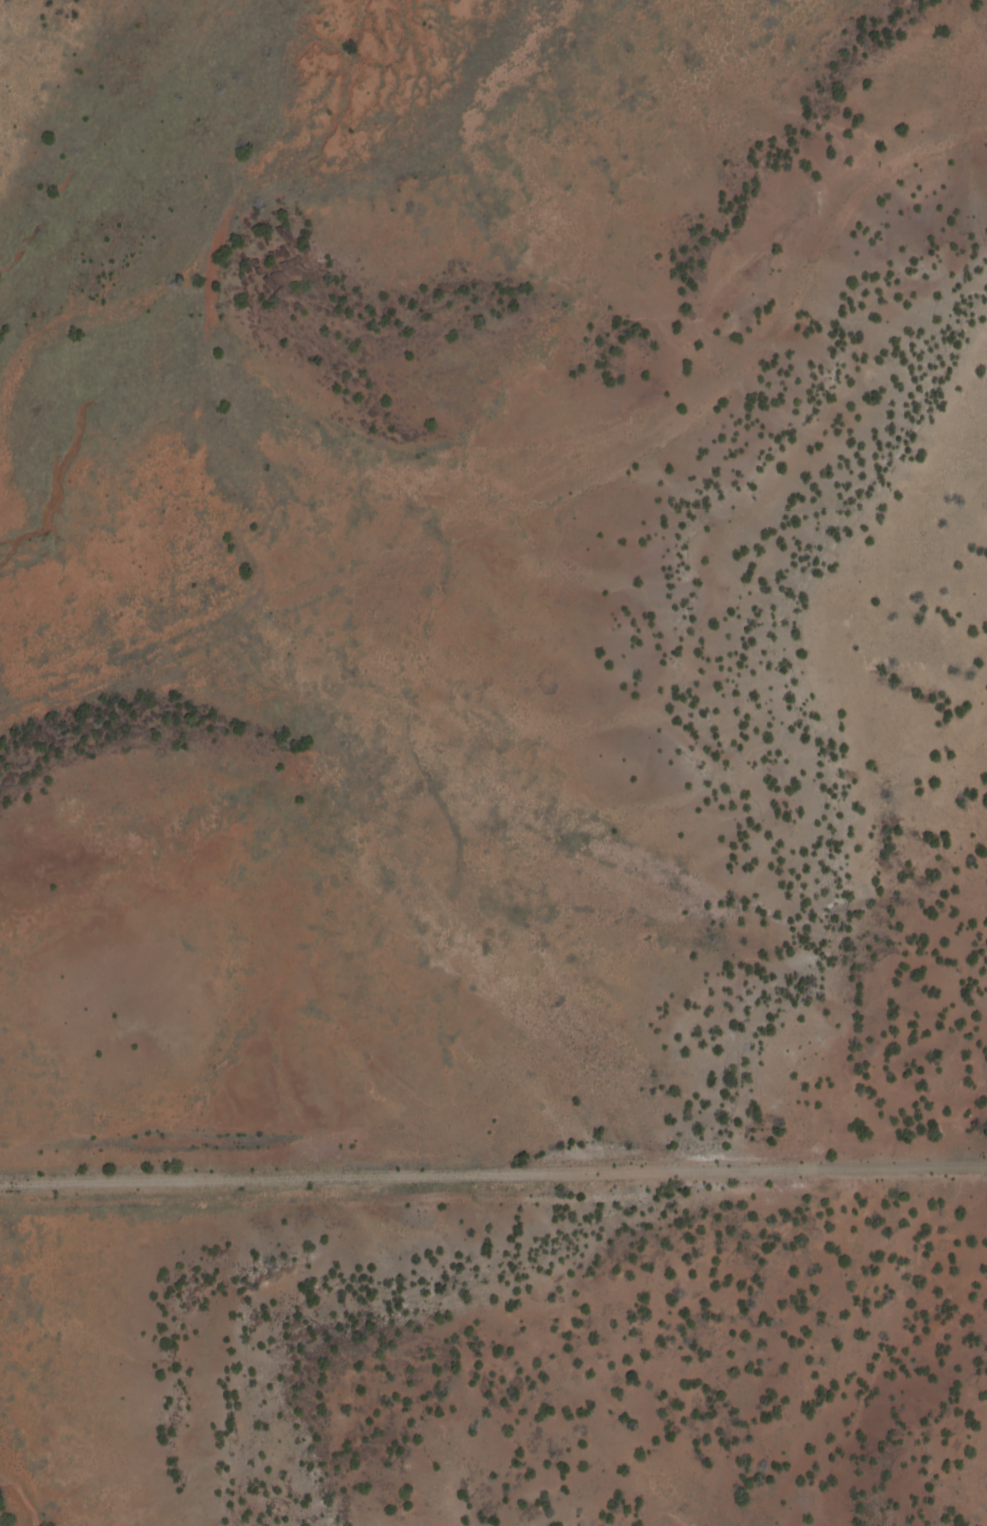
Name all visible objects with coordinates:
road: (493, 1177)

